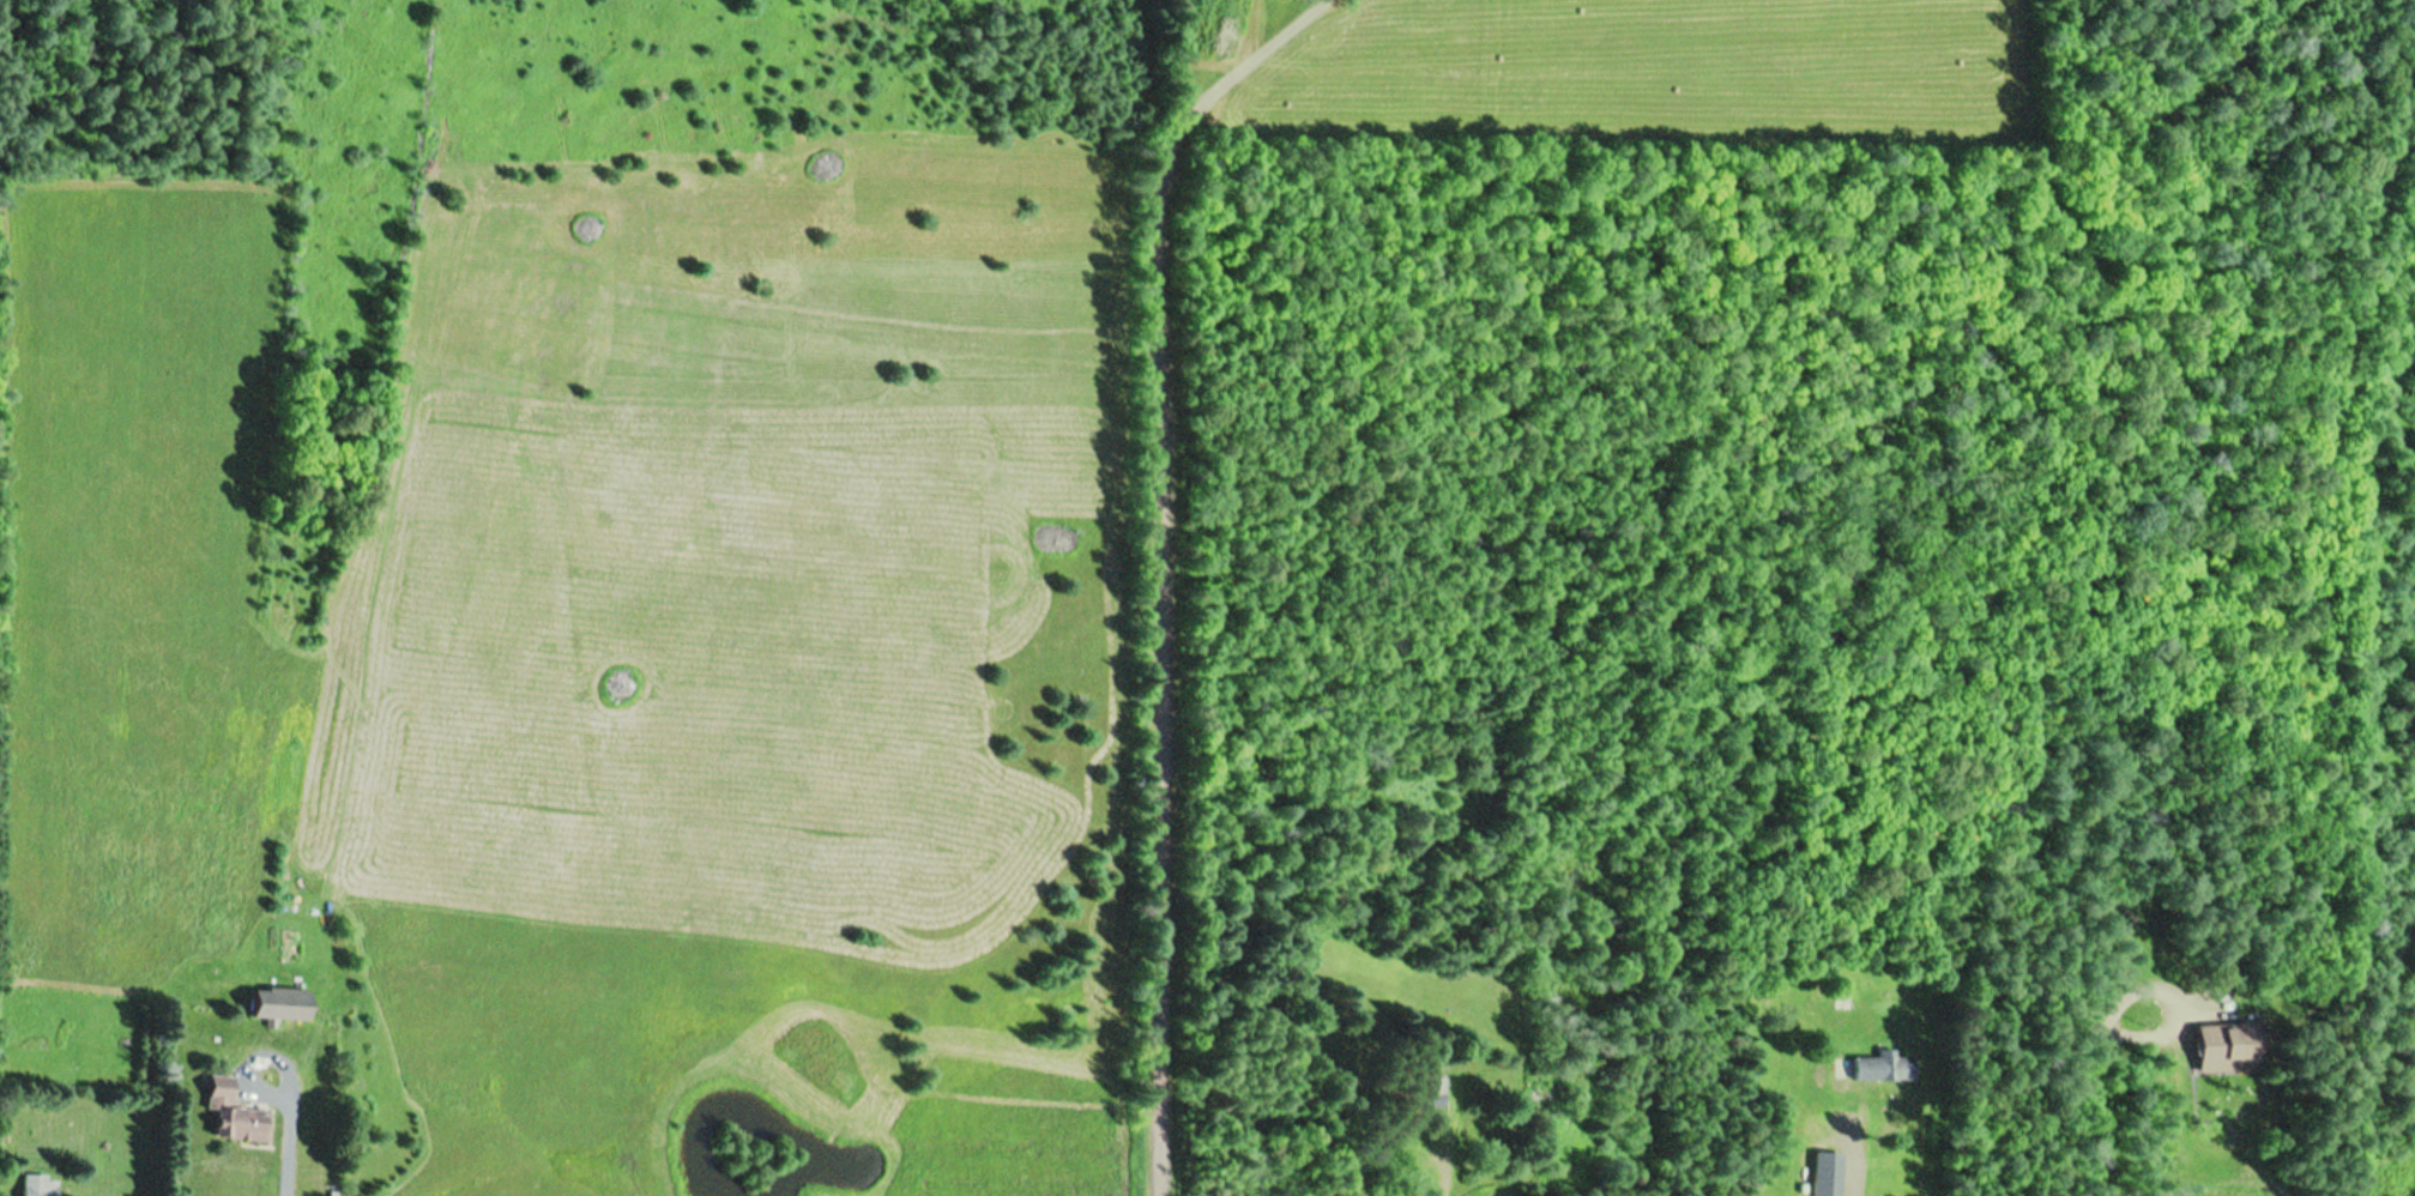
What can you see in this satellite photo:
road: (1169, 558)
building: (277, 1005)
building: (2224, 1049)
building: (1877, 1068)
building: (1432, 1093)
building: (231, 1118)
building: (1828, 1174)
building: (41, 1186)

